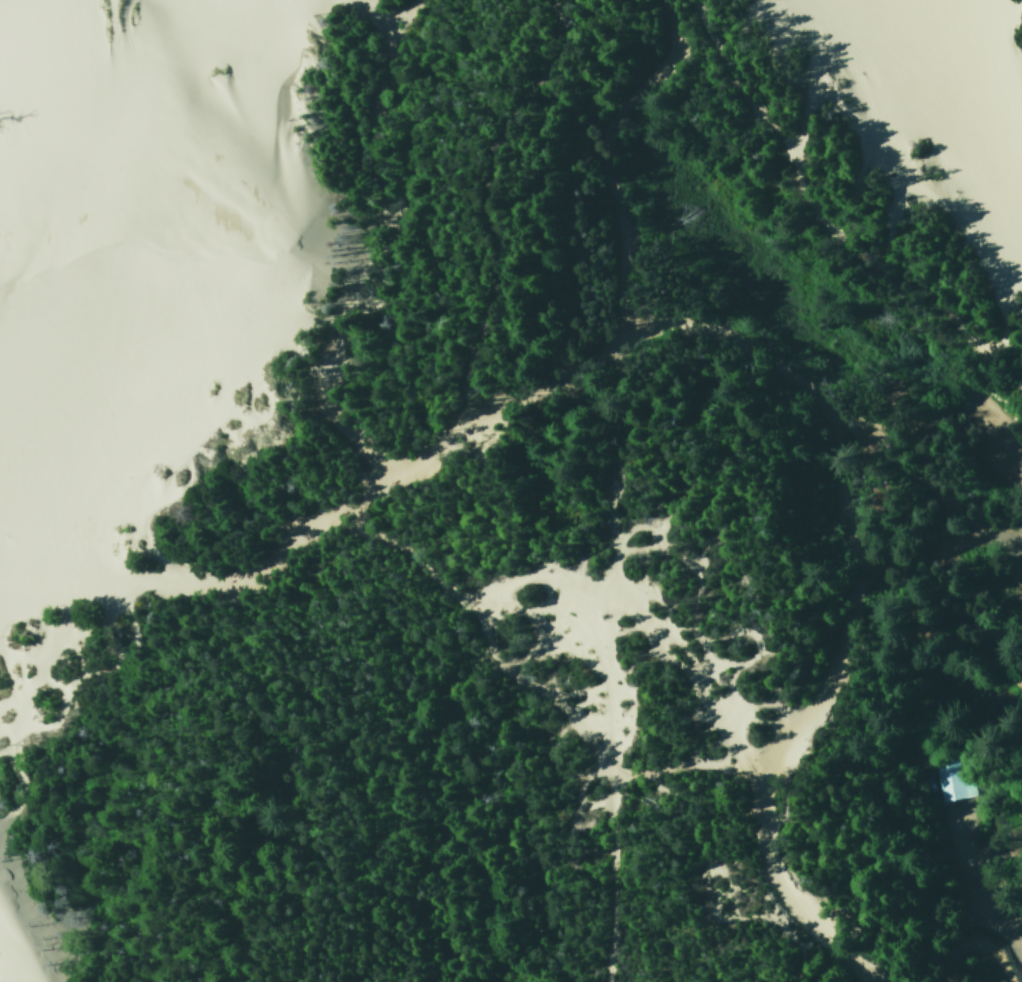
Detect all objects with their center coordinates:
building: (949, 779)

